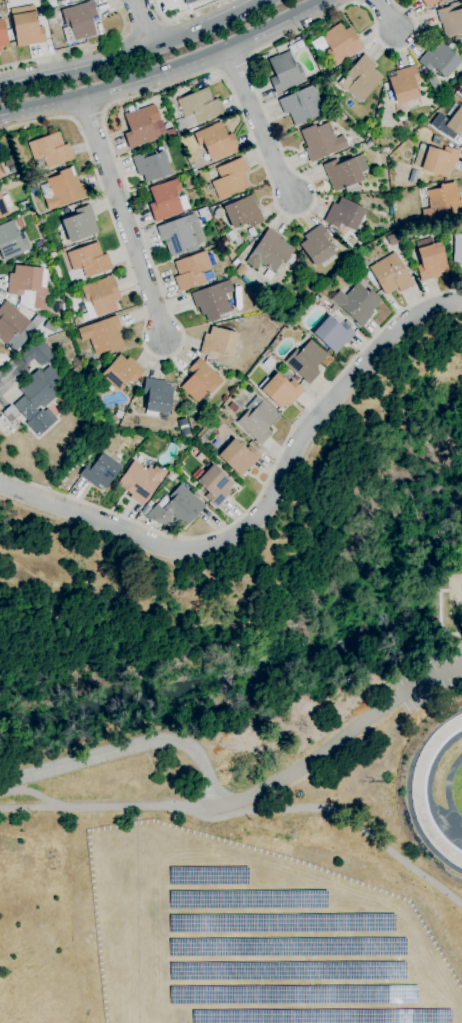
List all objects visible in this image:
building: (449, 0)
building: (452, 0)
building: (189, 1)
building: (429, 3)
building: (50, 15)
road: (181, 16)
road: (385, 16)
building: (451, 19)
building: (80, 20)
road: (143, 24)
road: (209, 26)
building: (26, 27)
building: (4, 35)
building: (458, 40)
building: (341, 43)
road: (81, 48)
building: (0, 50)
building: (440, 60)
road: (76, 68)
road: (166, 69)
building: (285, 71)
building: (362, 78)
building: (404, 85)
road: (164, 86)
building: (301, 105)
building: (197, 110)
building: (455, 123)
road: (257, 124)
building: (140, 128)
building: (435, 140)
building: (321, 141)
building: (216, 142)
building: (50, 150)
building: (436, 160)
building: (151, 166)
building: (342, 173)
building: (1, 175)
building: (413, 176)
building: (230, 178)
building: (62, 189)
building: (165, 200)
building: (442, 203)
building: (4, 205)
building: (243, 212)
building: (344, 215)
road: (125, 217)
building: (207, 218)
building: (80, 225)
building: (180, 234)
building: (392, 240)
building: (11, 241)
building: (317, 245)
building: (457, 249)
building: (269, 252)
building: (88, 260)
building: (430, 261)
building: (235, 262)
building: (362, 263)
building: (240, 270)
building: (191, 271)
building: (268, 274)
building: (391, 274)
building: (29, 286)
building: (323, 291)
building: (64, 292)
building: (100, 297)
building: (213, 300)
building: (357, 304)
building: (334, 308)
building: (274, 321)
building: (10, 322)
building: (291, 324)
building: (334, 333)
building: (102, 335)
building: (218, 343)
building: (274, 343)
building: (37, 353)
building: (266, 354)
building: (306, 361)
building: (121, 372)
road: (11, 375)
building: (234, 376)
building: (295, 378)
building: (200, 381)
building: (280, 390)
building: (157, 397)
building: (38, 400)
building: (232, 408)
building: (10, 414)
building: (257, 420)
building: (126, 433)
building: (239, 456)
building: (200, 457)
building: (100, 471)
building: (171, 477)
building: (140, 482)
building: (213, 484)
road: (262, 490)
road: (268, 507)
building: (175, 508)
river: (256, 667)
parking lot: (428, 680)
park: (246, 745)
track: (417, 791)
road: (226, 803)
road: (199, 808)
road: (29, 809)
road: (244, 811)
building: (207, 875)
building: (248, 899)
building: (280, 922)
solar farm: (252, 937)
building: (285, 946)
building: (286, 971)
building: (292, 995)
building: (321, 1016)

